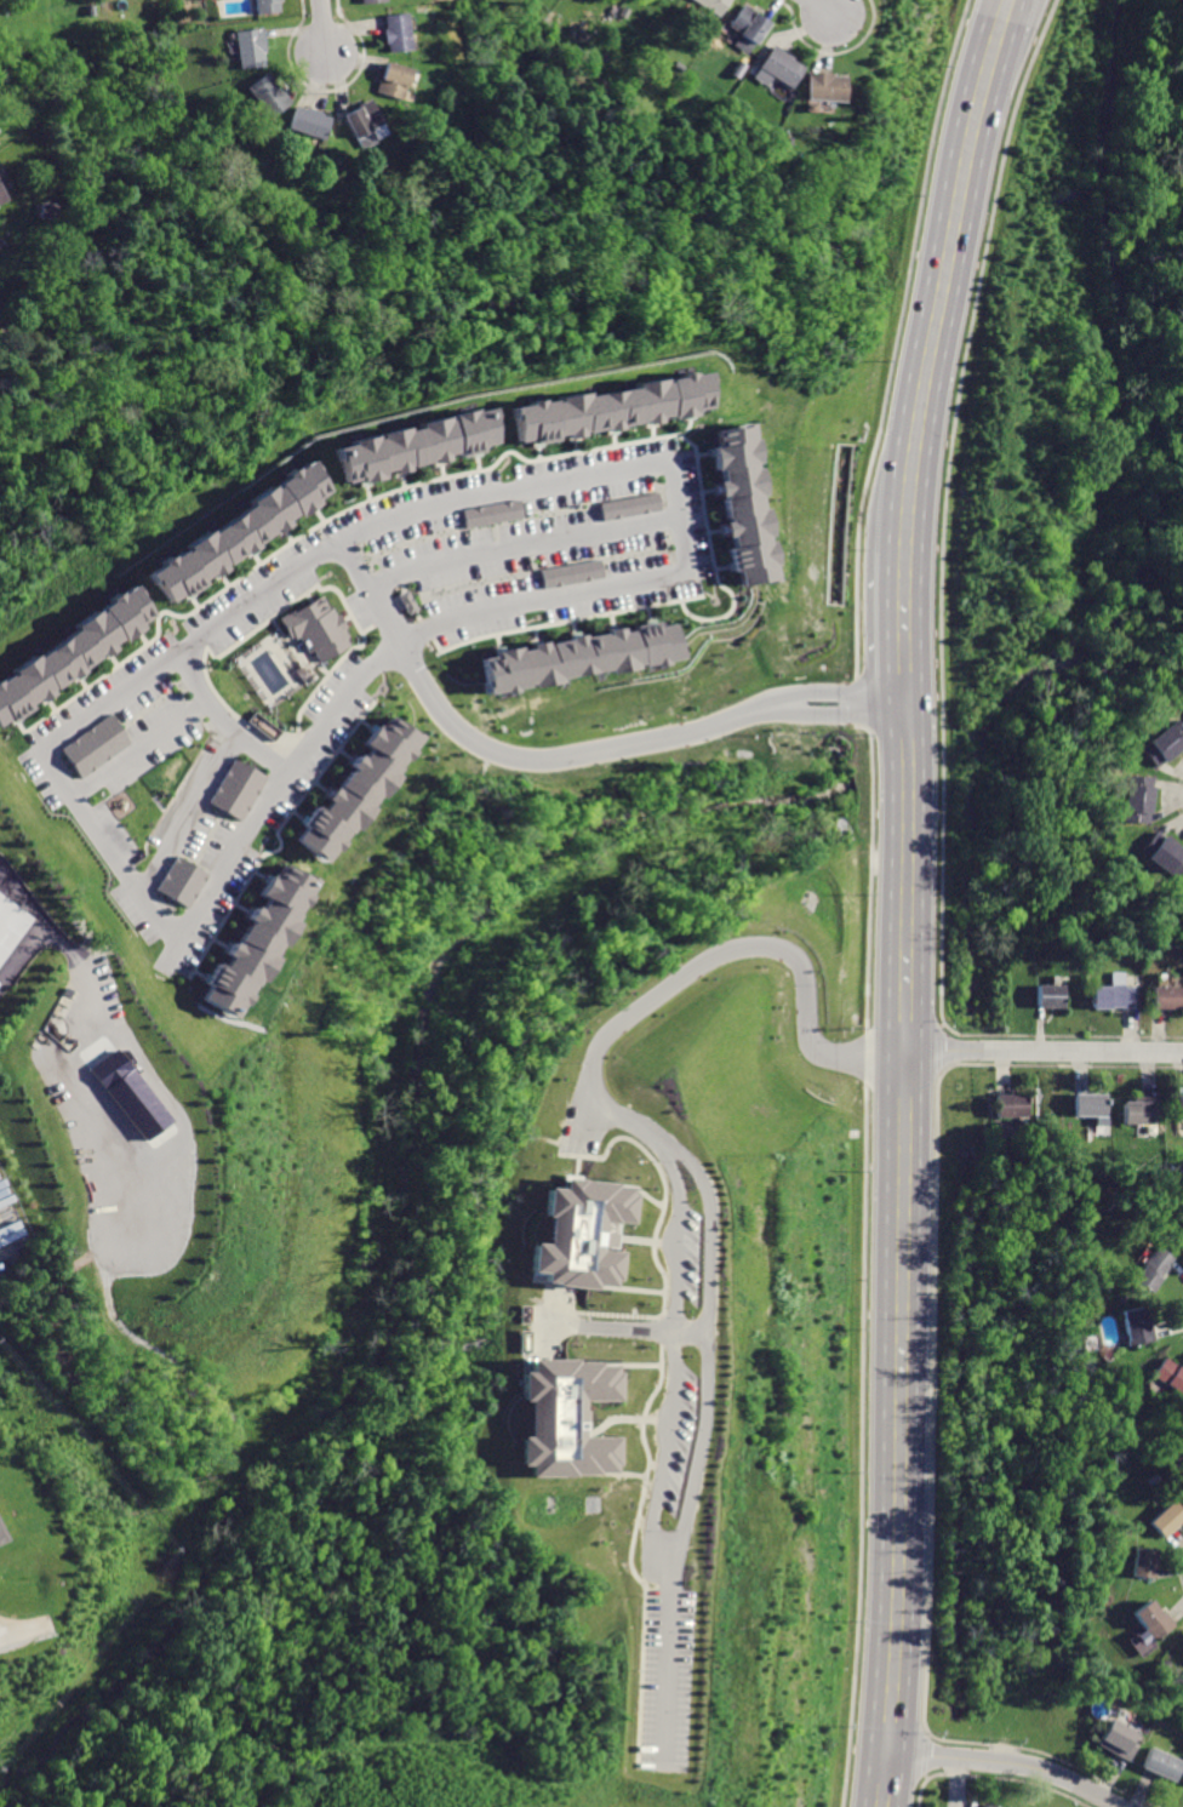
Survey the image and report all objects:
building: (373, 1)
building: (267, 5)
building: (713, 6)
road: (823, 7)
road: (325, 27)
building: (749, 28)
building: (398, 32)
building: (250, 46)
building: (781, 69)
building: (393, 81)
building: (825, 87)
building: (268, 95)
building: (361, 119)
building: (309, 122)
building: (1, 199)
building: (44, 208)
building: (0, 238)
road: (941, 256)
building: (604, 406)
building: (411, 441)
building: (630, 504)
building: (742, 504)
building: (492, 513)
building: (233, 528)
road: (524, 544)
building: (572, 573)
building: (411, 601)
road: (905, 601)
road: (241, 610)
building: (321, 628)
building: (52, 652)
building: (581, 656)
road: (833, 690)
road: (834, 713)
road: (223, 720)
building: (96, 744)
building: (1161, 744)
road: (143, 749)
road: (502, 753)
building: (352, 788)
building: (238, 789)
building: (1136, 799)
road: (192, 814)
building: (1164, 854)
building: (183, 880)
building: (10, 930)
road: (41, 930)
building: (256, 939)
road: (705, 954)
building: (1115, 996)
building: (1052, 997)
building: (1167, 997)
road: (84, 1045)
road: (1044, 1051)
building: (107, 1071)
building: (1090, 1106)
building: (1178, 1106)
building: (1010, 1108)
building: (1139, 1110)
building: (581, 1229)
building: (1182, 1239)
road: (902, 1246)
building: (1153, 1269)
road: (619, 1326)
building: (1137, 1326)
road: (703, 1344)
road: (669, 1354)
building: (1168, 1373)
building: (561, 1416)
building: (1166, 1519)
building: (0, 1539)
building: (0, 1542)
building: (1144, 1563)
building: (1154, 1620)
road: (663, 1651)
building: (1122, 1740)
road: (1010, 1763)
building: (1165, 1763)
building: (984, 1806)

